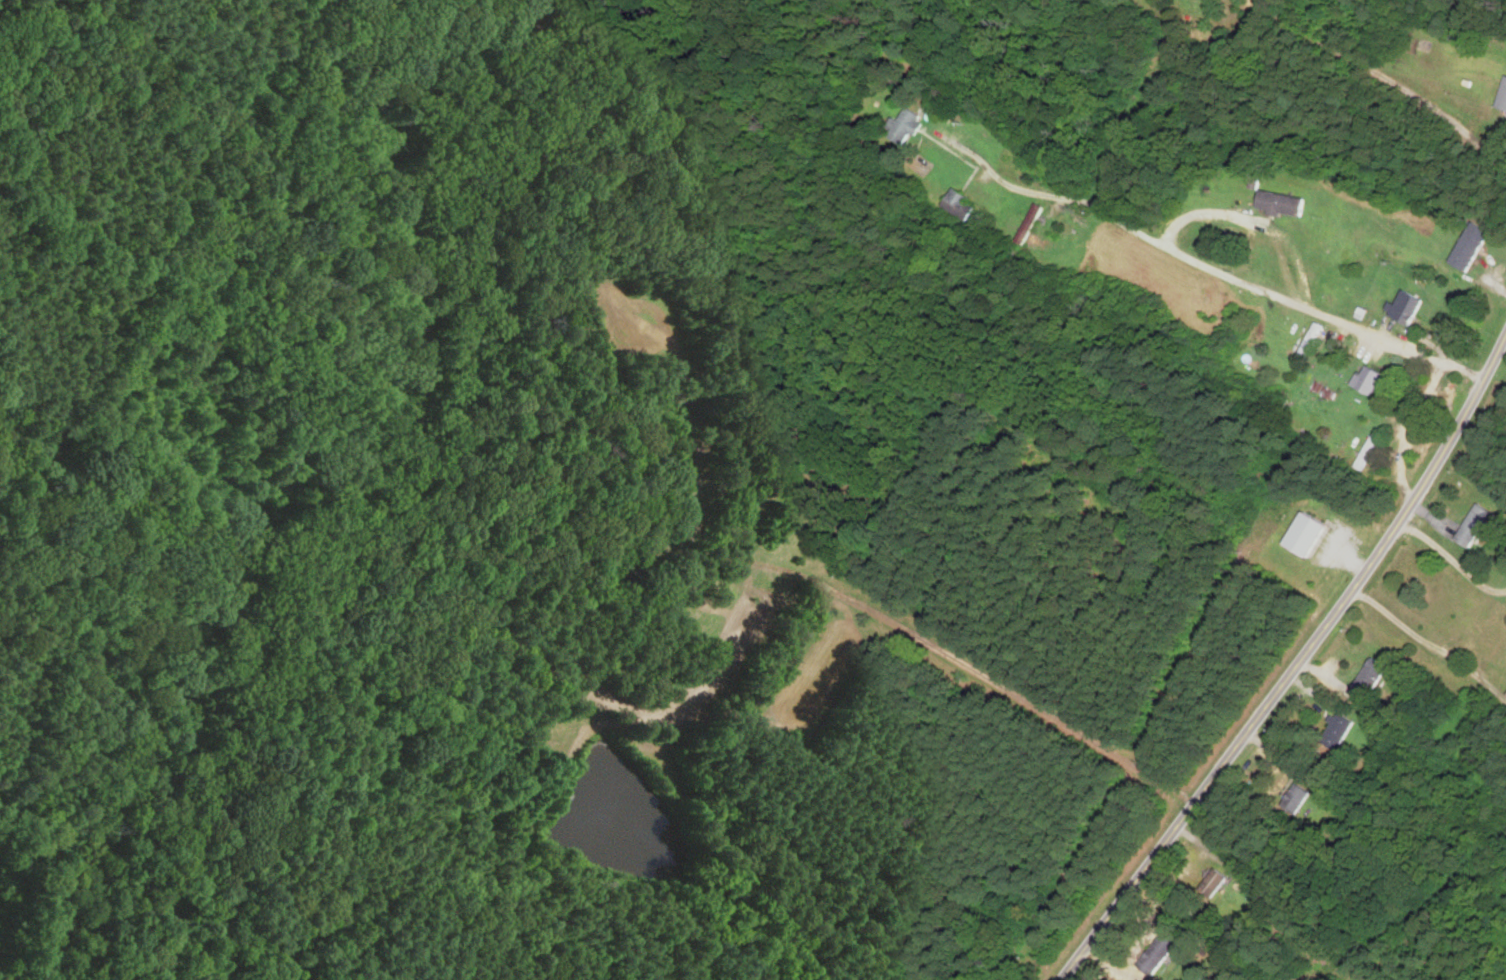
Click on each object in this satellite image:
building: (1504, 101)
building: (907, 126)
building: (961, 204)
building: (1282, 204)
building: (1032, 224)
building: (1471, 246)
road: (1236, 278)
building: (1411, 306)
building: (1313, 342)
building: (1371, 380)
building: (1370, 451)
building: (1483, 524)
building: (1309, 534)
road: (1451, 559)
building: (631, 577)
road: (1295, 669)
building: (1373, 677)
building: (1340, 732)
building: (1299, 797)
building: (1218, 881)
building: (1162, 952)

